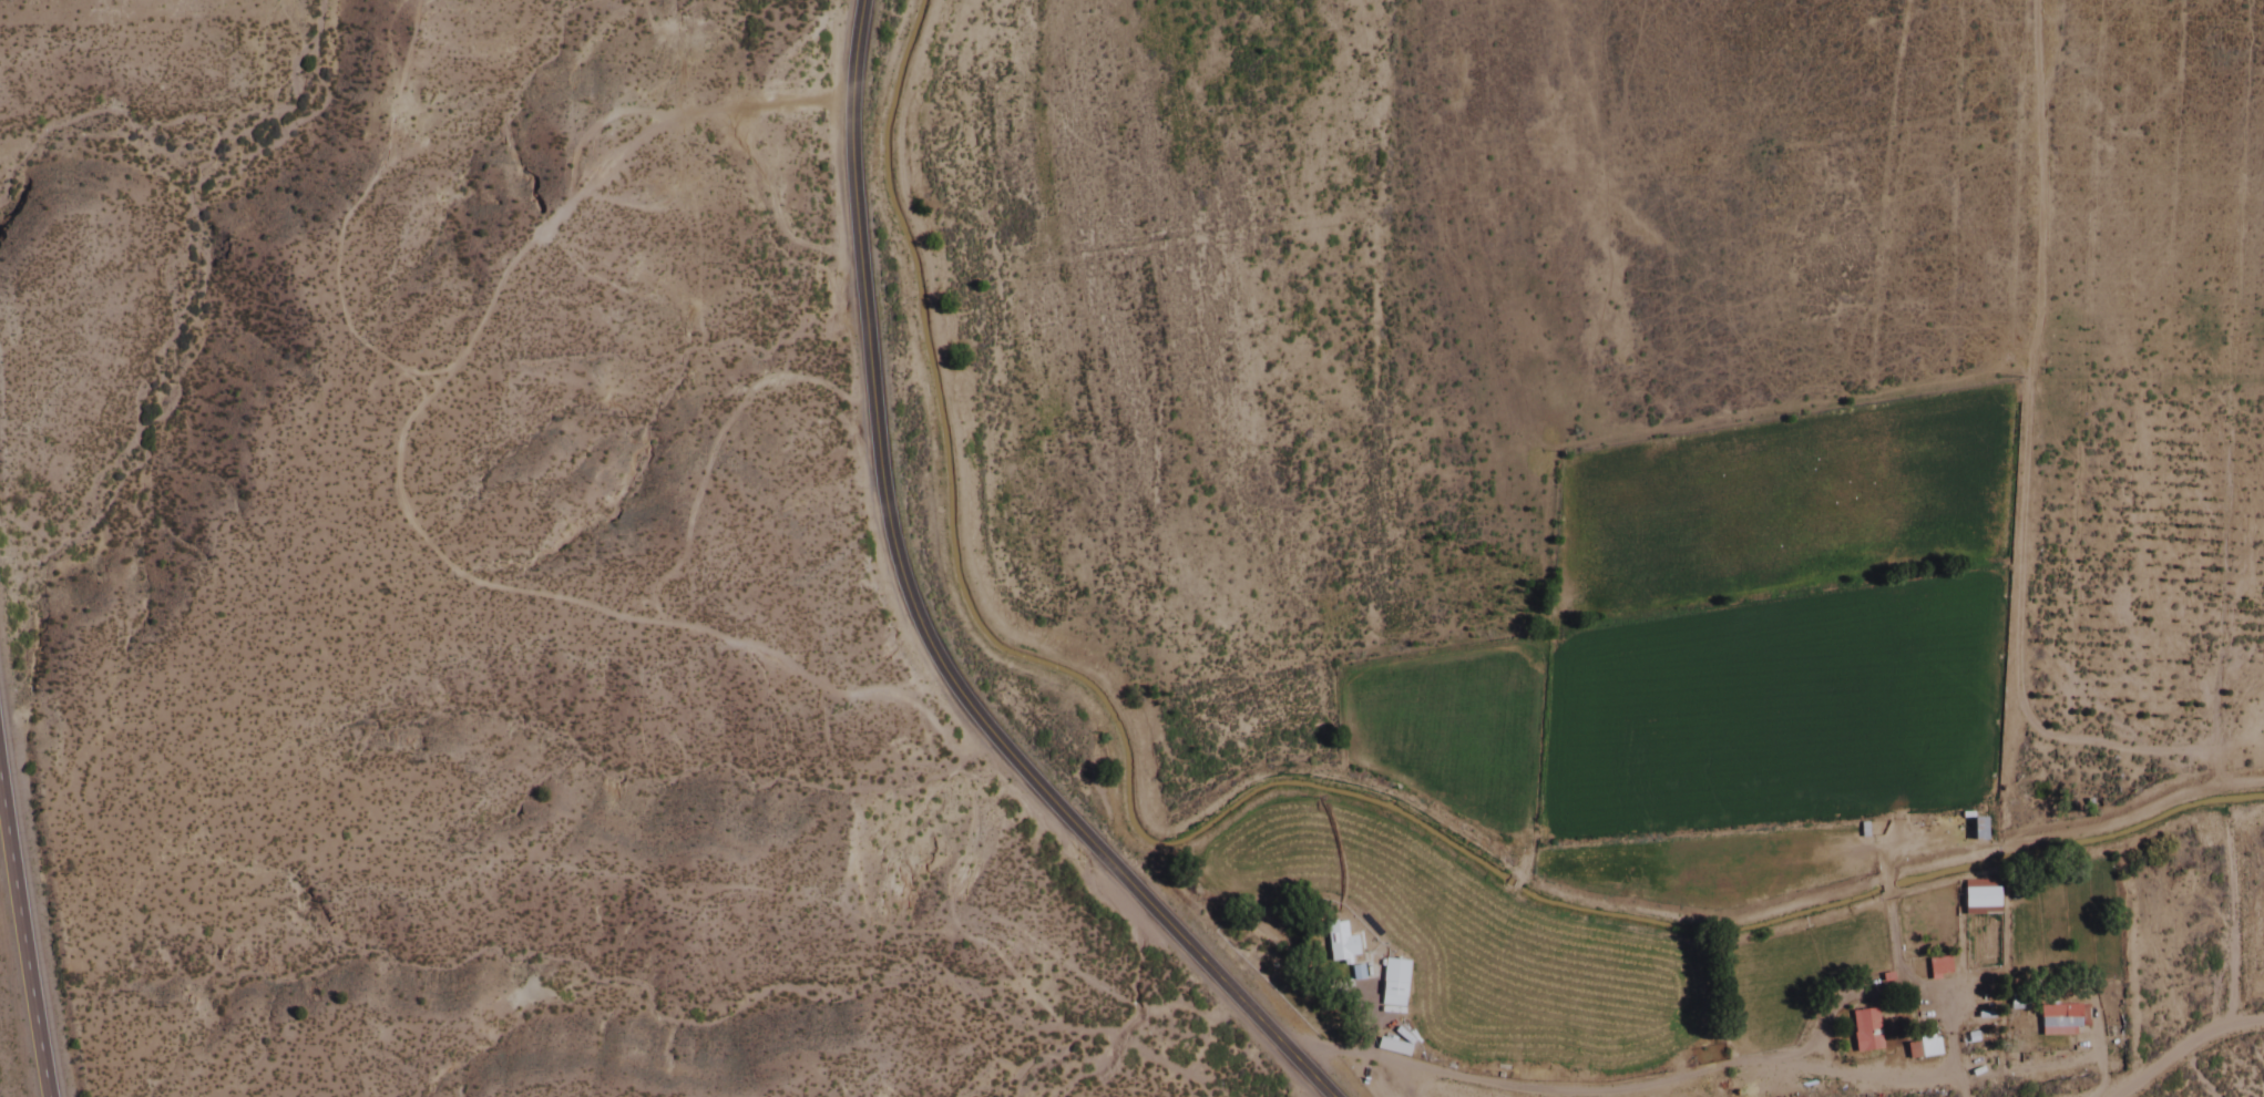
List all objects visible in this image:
road: (908, 351)
road: (908, 622)
road: (1257, 779)
building: (1975, 831)
road: (23, 943)
building: (1336, 945)
building: (1935, 967)
building: (1392, 973)
building: (2060, 1021)
building: (1862, 1032)
road: (2182, 1049)
building: (1918, 1050)
road: (1621, 1088)

